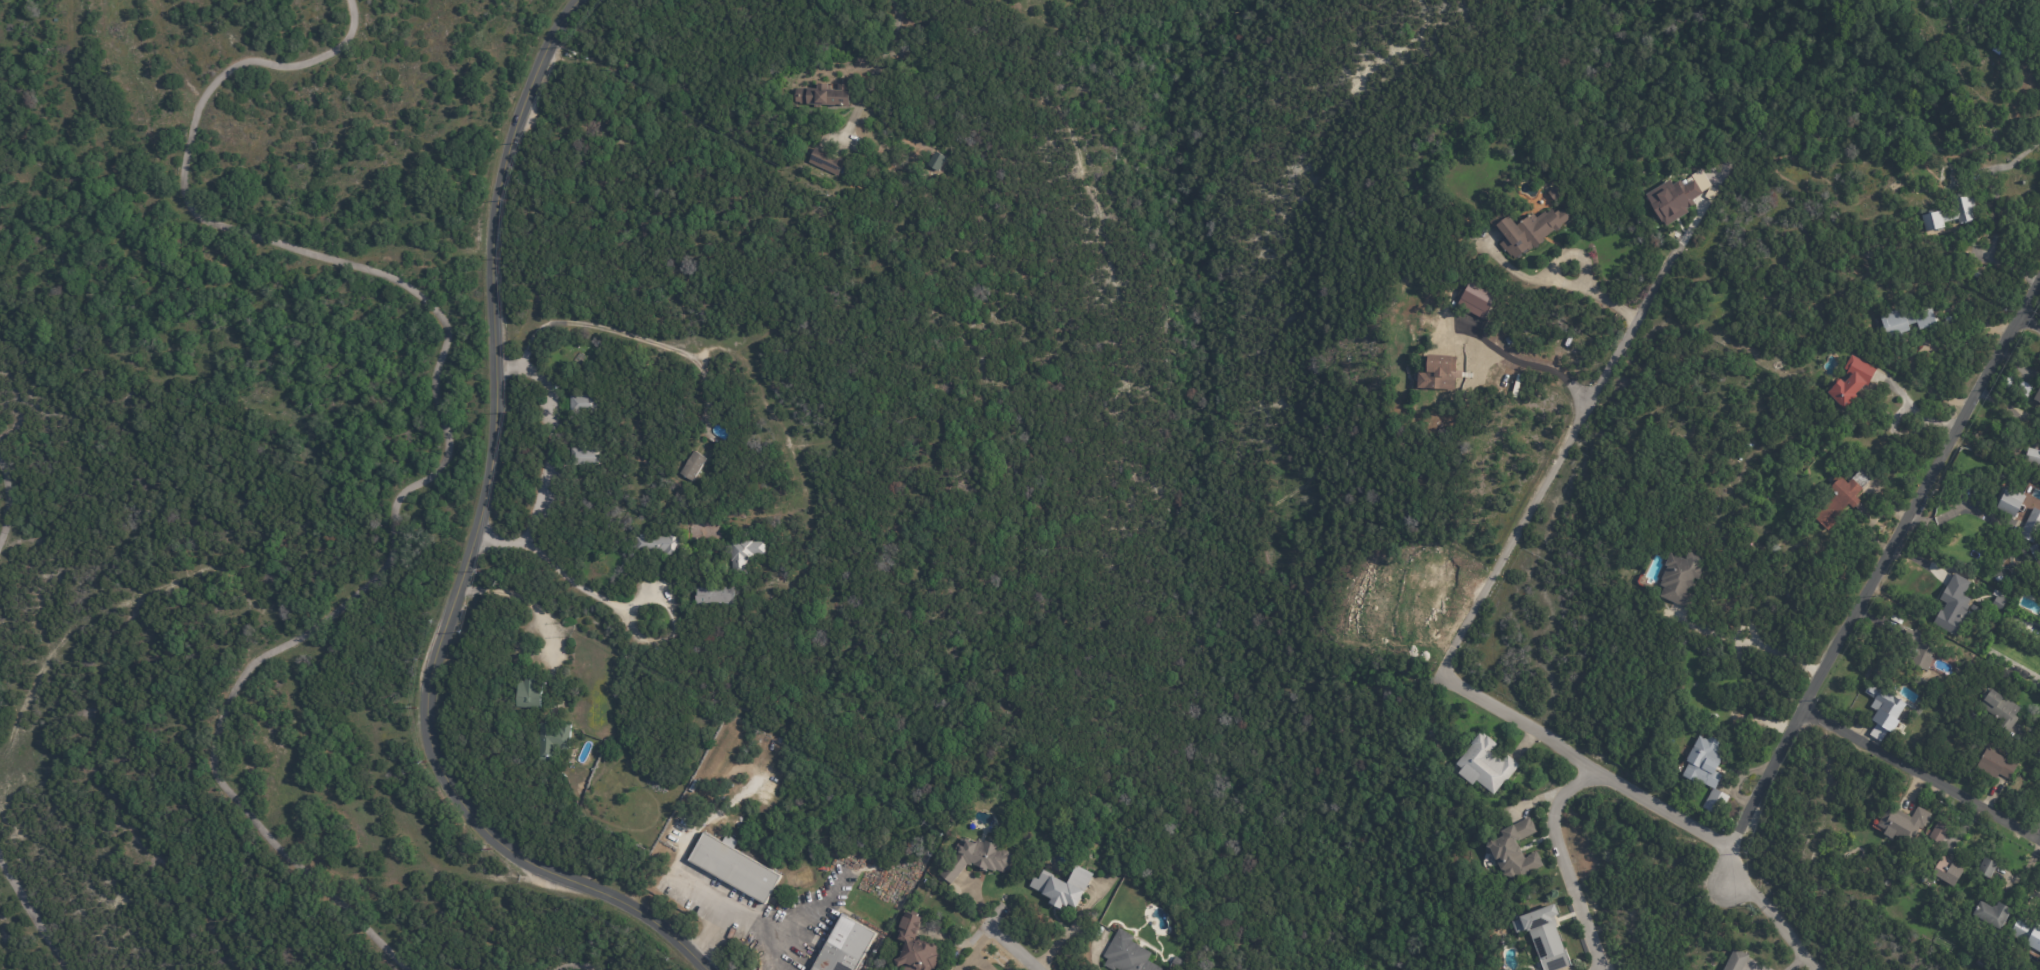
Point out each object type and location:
road: (569, 9)
road: (882, 53)
building: (825, 95)
building: (935, 161)
building: (827, 162)
building: (1553, 192)
building: (1669, 201)
road: (1993, 211)
building: (1950, 214)
building: (1524, 229)
building: (1978, 273)
road: (1561, 284)
building: (1904, 318)
road: (2029, 323)
road: (614, 332)
building: (1508, 340)
road: (1520, 363)
building: (1436, 371)
building: (1848, 380)
building: (2016, 384)
building: (2036, 394)
building: (587, 403)
road: (1917, 412)
road: (1896, 434)
road: (548, 436)
building: (587, 456)
building: (2031, 457)
building: (694, 466)
building: (2006, 501)
building: (1835, 502)
building: (2031, 526)
building: (706, 531)
road: (500, 542)
building: (661, 544)
building: (2032, 548)
building: (747, 555)
road: (467, 556)
building: (1679, 579)
road: (1872, 579)
road: (584, 590)
road: (513, 593)
building: (718, 595)
building: (2018, 603)
building: (1998, 604)
road: (1474, 605)
building: (1952, 608)
building: (1974, 608)
road: (1745, 626)
road: (1752, 643)
building: (1922, 650)
building: (528, 694)
building: (1884, 707)
building: (1999, 709)
building: (1877, 733)
building: (554, 740)
building: (1482, 765)
building: (1997, 765)
road: (1921, 771)
building: (1706, 777)
building: (1067, 814)
building: (1903, 824)
building: (1936, 833)
road: (2039, 838)
building: (1512, 849)
building: (980, 859)
road: (1560, 861)
building: (737, 867)
building: (1984, 868)
building: (1946, 872)
building: (1886, 882)
building: (1066, 886)
road: (702, 892)
road: (726, 908)
building: (1992, 913)
road: (1772, 916)
building: (2025, 935)
building: (1546, 937)
building: (848, 946)
building: (917, 946)
road: (1013, 949)
building: (1130, 954)
building: (1737, 960)
building: (1979, 964)
building: (972, 969)
building: (975, 969)

